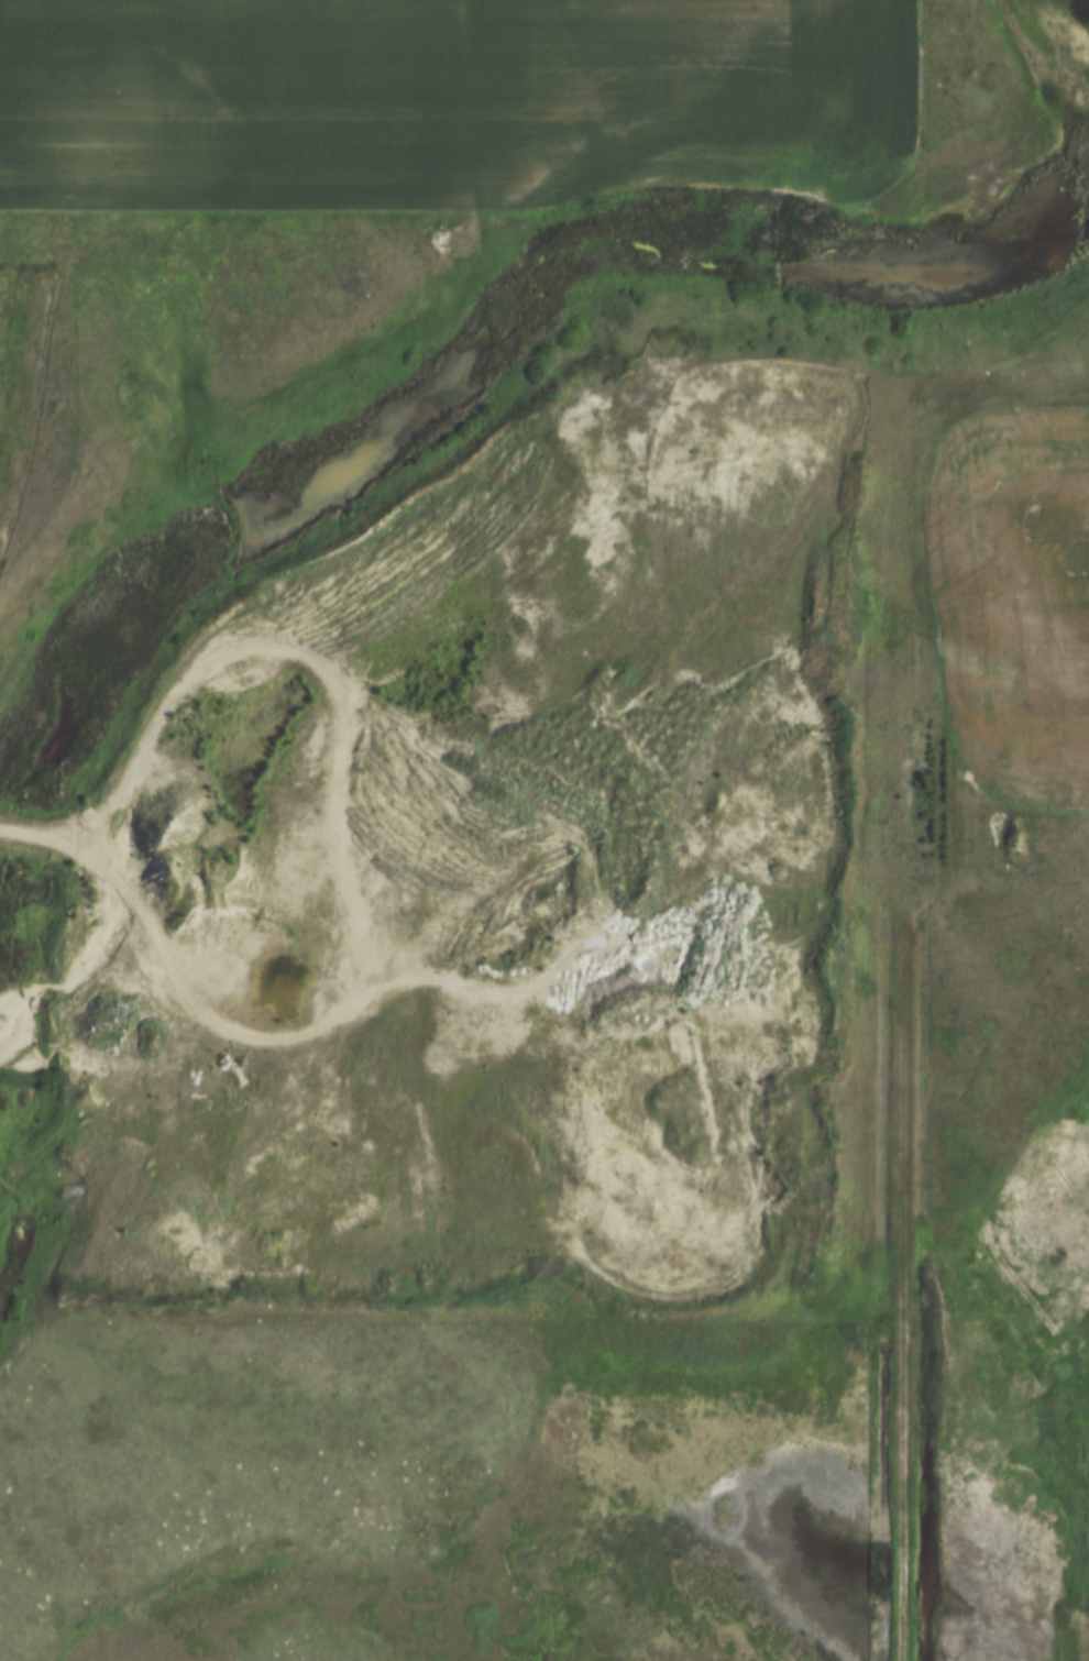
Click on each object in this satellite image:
road: (902, 1186)

